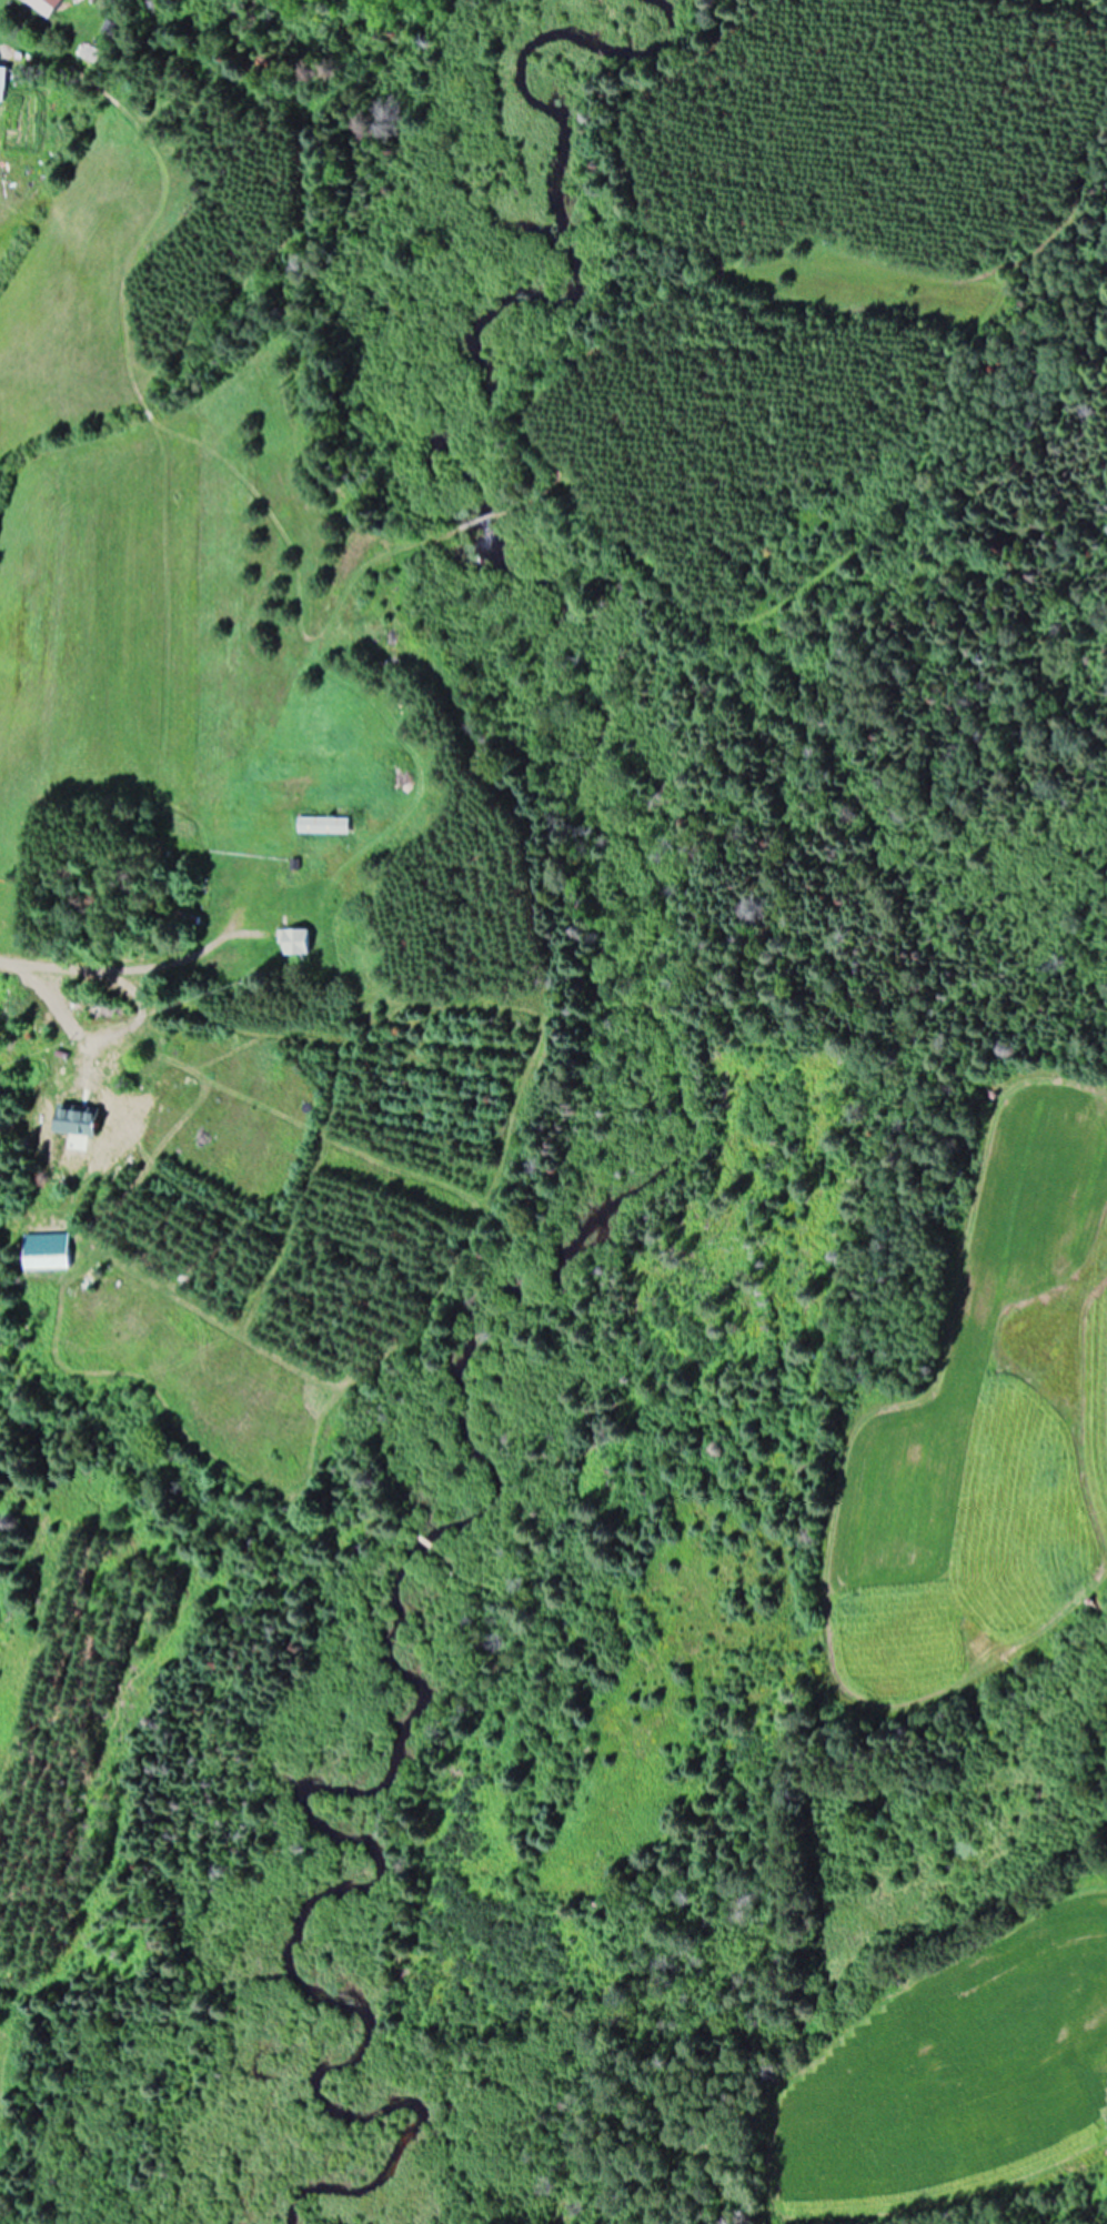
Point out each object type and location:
building: (46, 6)
building: (2, 85)
building: (321, 827)
building: (293, 944)
road: (123, 987)
building: (101, 1080)

